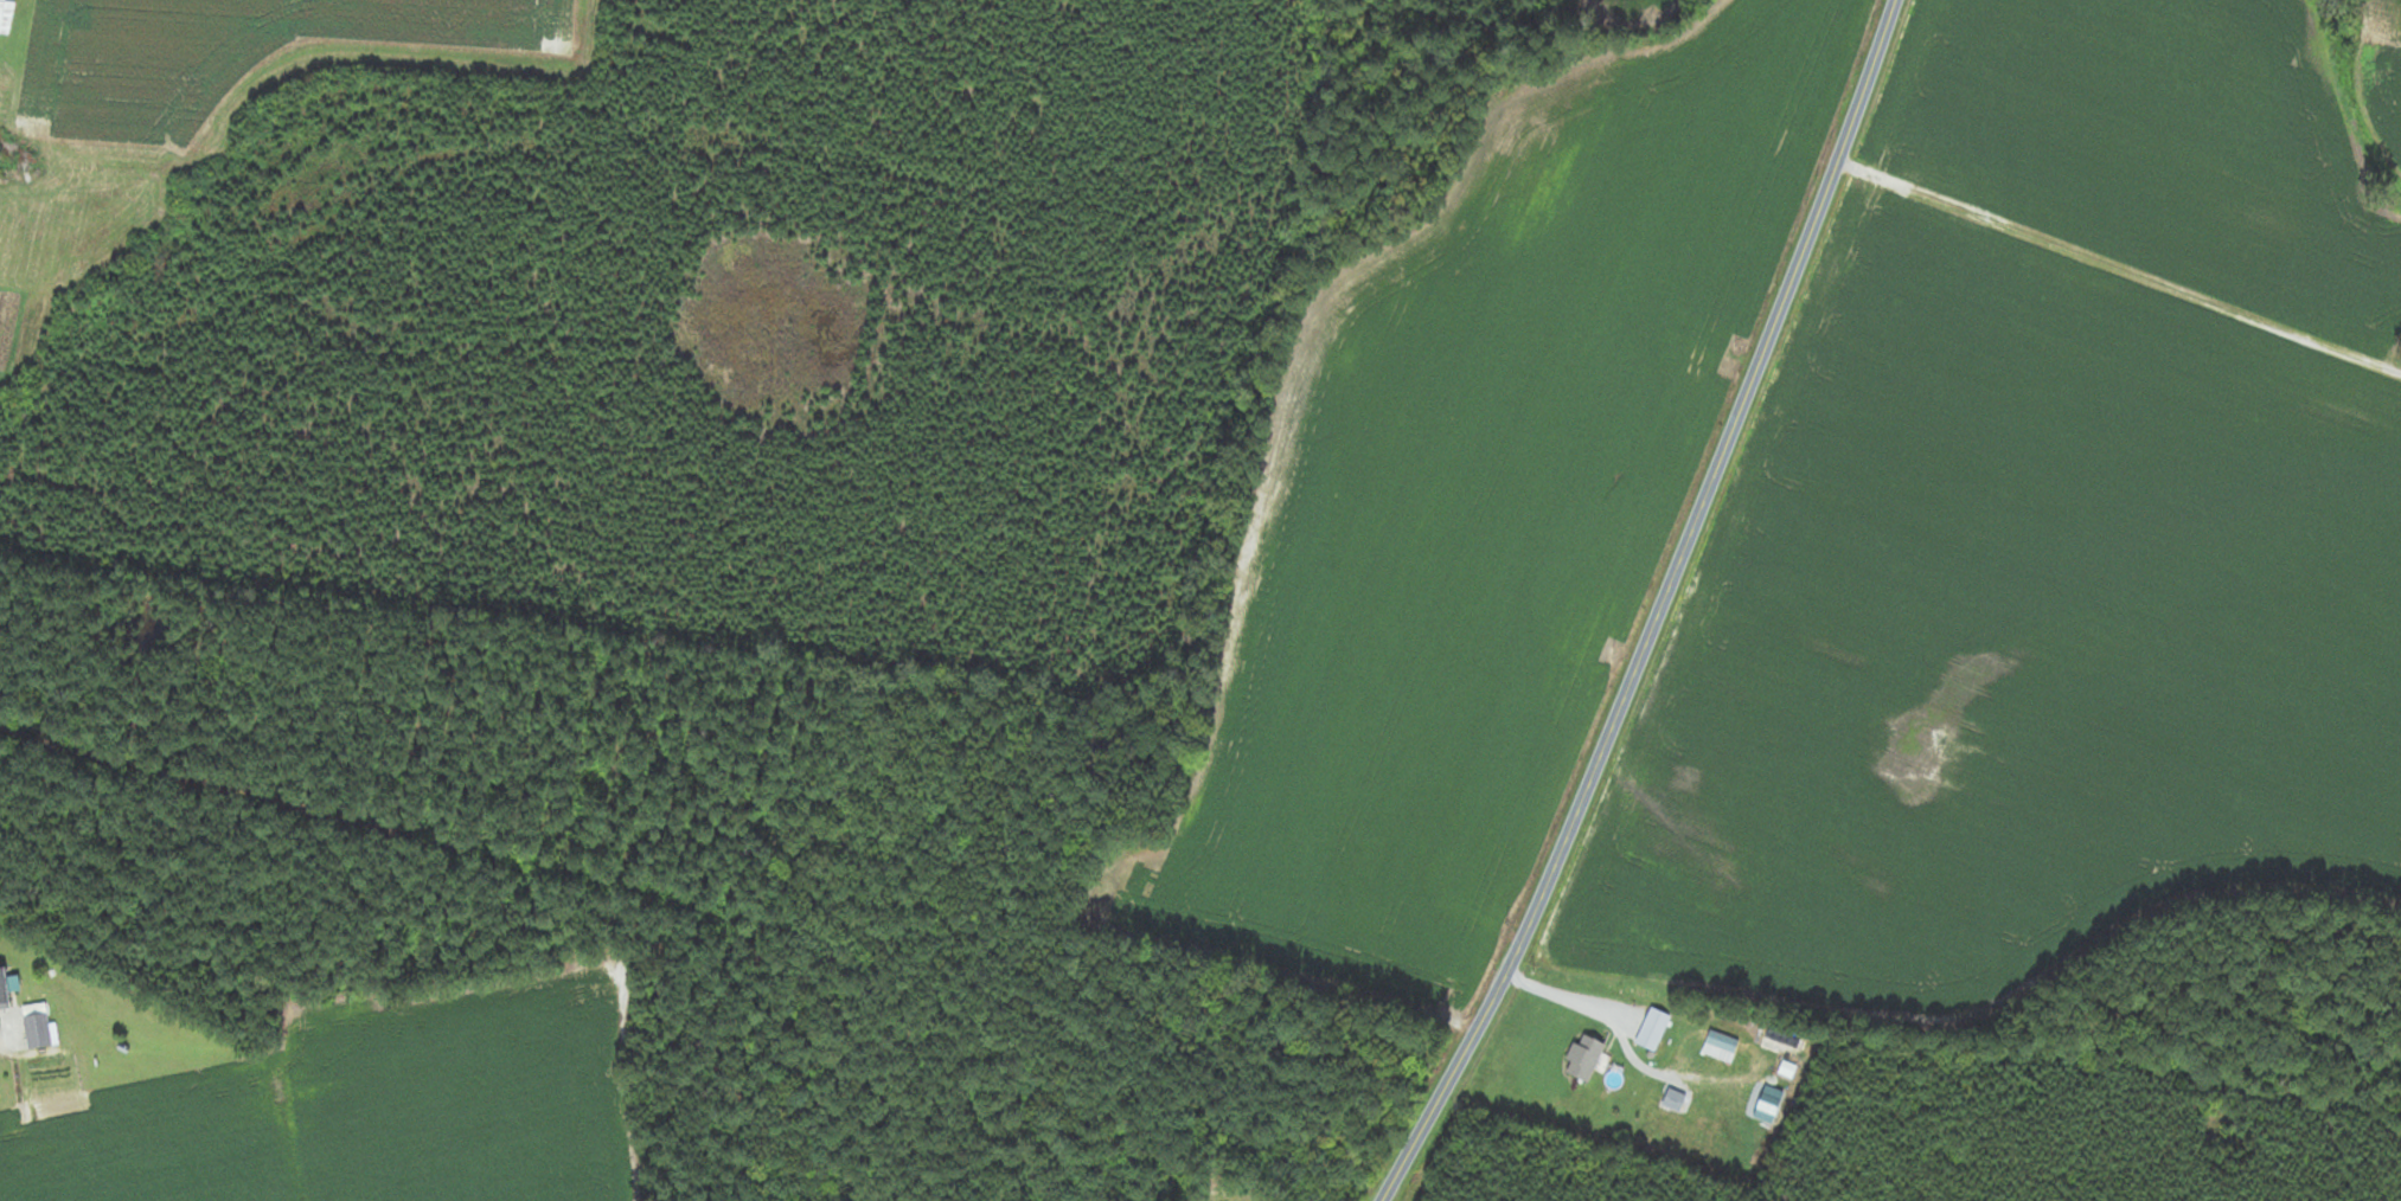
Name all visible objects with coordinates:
road: (2117, 270)
road: (1660, 609)
building: (34, 1027)
building: (1651, 1030)
building: (1581, 1060)

